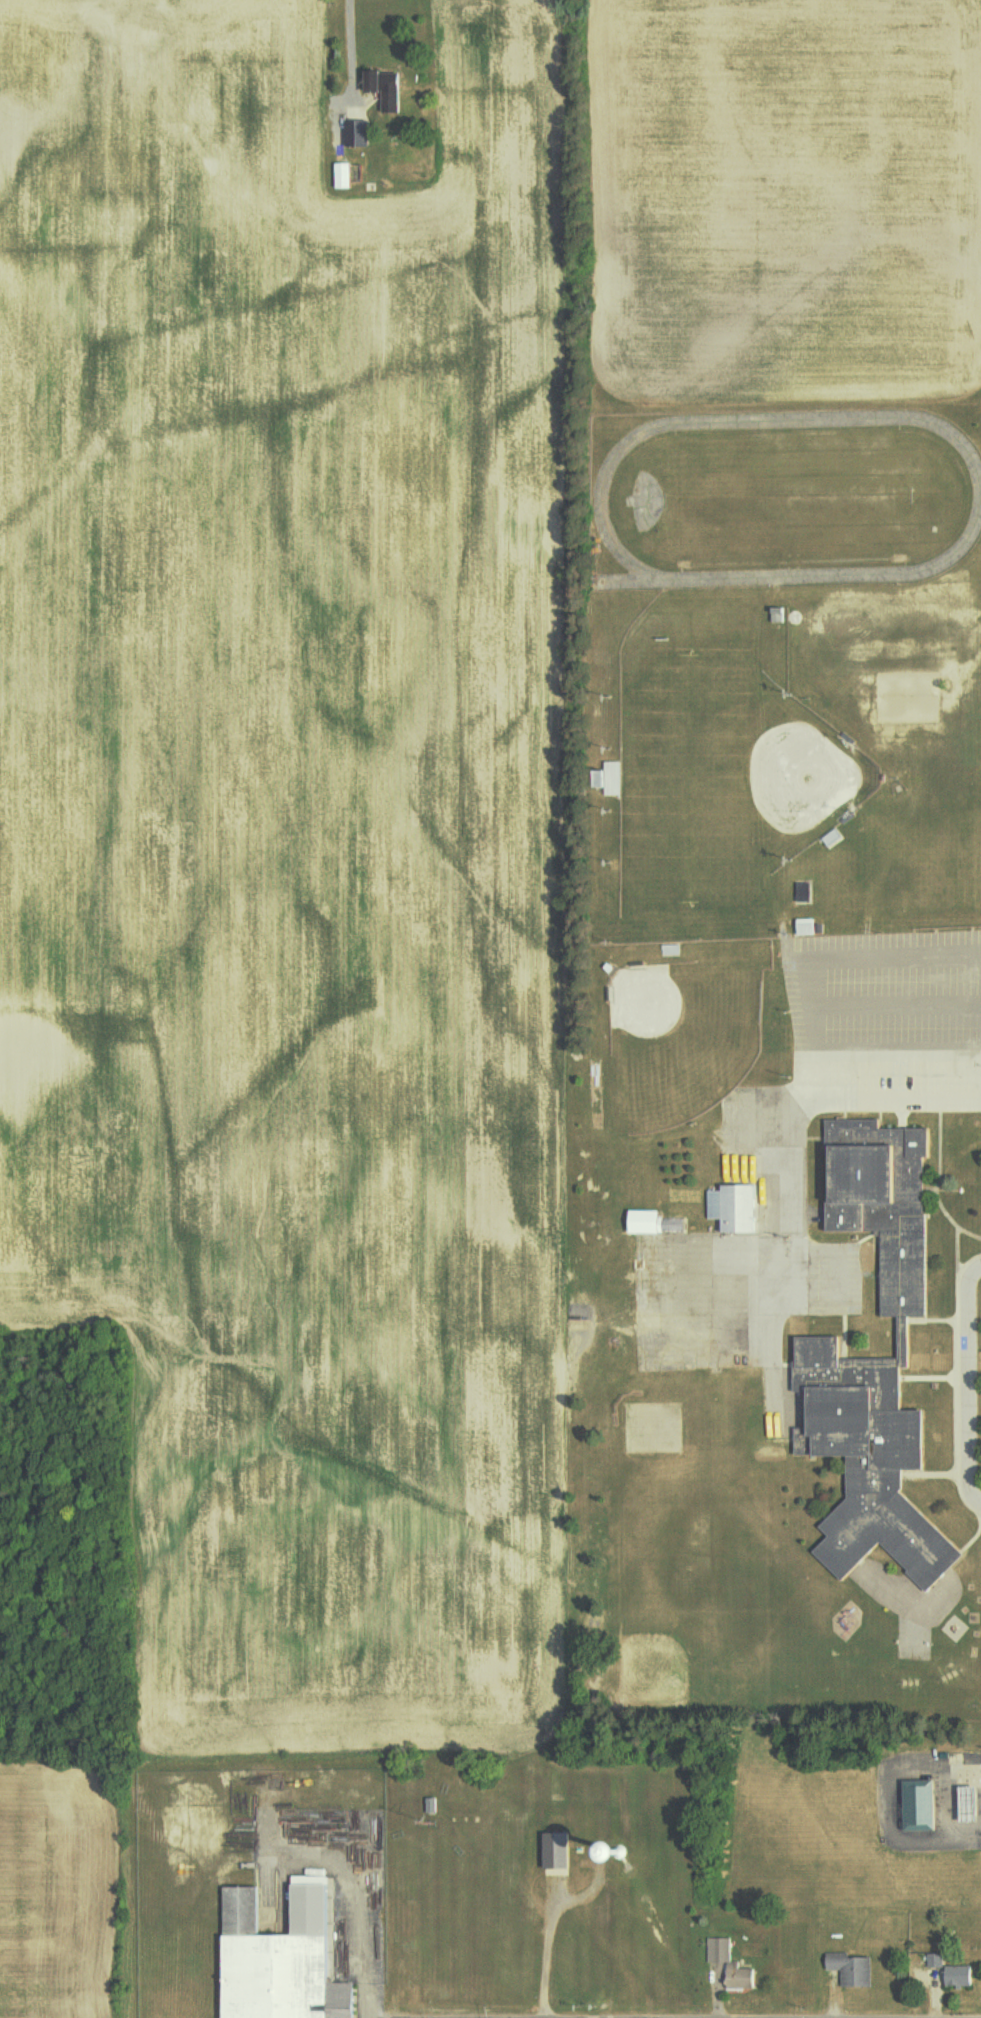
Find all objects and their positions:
building: (388, 91)
building: (356, 133)
building: (345, 176)
crop: (777, 196)
track: (788, 497)
park: (890, 696)
park: (920, 696)
park: (795, 774)
park: (688, 776)
building: (611, 779)
crop: (296, 849)
building: (807, 927)
park: (681, 1038)
building: (735, 1208)
building: (657, 1223)
building: (876, 1356)
road: (966, 1385)
park: (665, 1450)
park: (912, 1647)
building: (960, 1804)
gas station: (960, 1804)
building: (911, 1806)
building: (560, 1850)
water tower: (618, 1853)
crop: (60, 1891)
building: (284, 1958)
building: (934, 1960)
building: (730, 1963)
building: (851, 1968)
building: (958, 1975)

